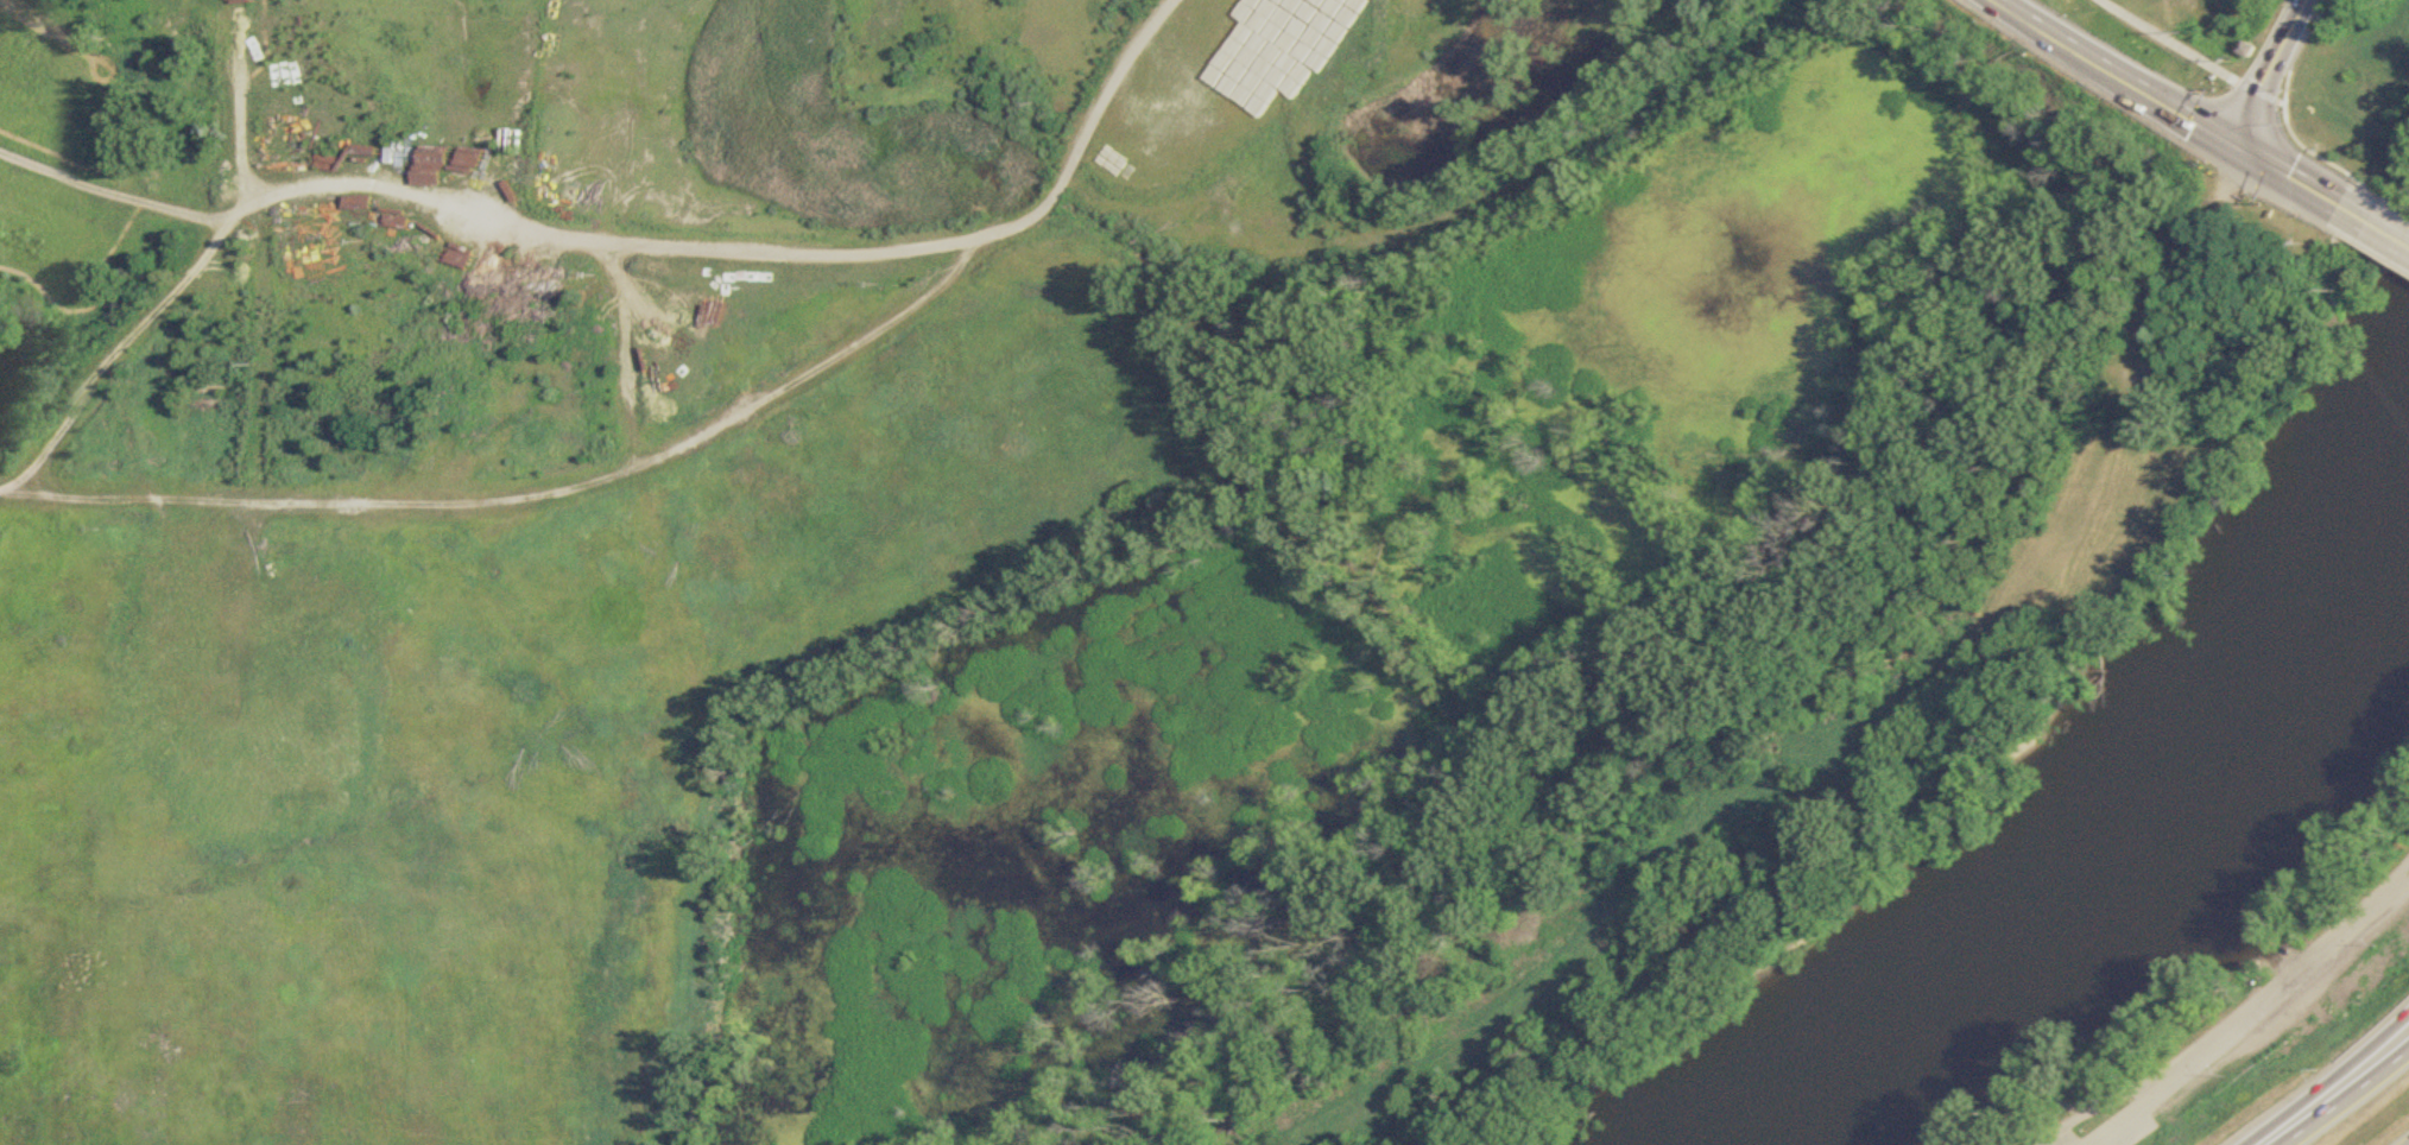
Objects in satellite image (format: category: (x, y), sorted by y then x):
park: (2196, 37)
road: (2182, 46)
road: (2116, 56)
road: (2281, 69)
road: (244, 139)
traffic signals: (2250, 139)
building: (499, 141)
road: (2319, 152)
road: (2291, 166)
road: (2398, 204)
road: (2392, 230)
road: (641, 251)
road: (119, 354)
road: (527, 498)
river: (2356, 571)
river: (2041, 928)
road: (2277, 1002)
road: (2239, 1020)
road: (2331, 1083)
road: (2348, 1100)
road: (2120, 1128)
parking lot: (2116, 1130)

